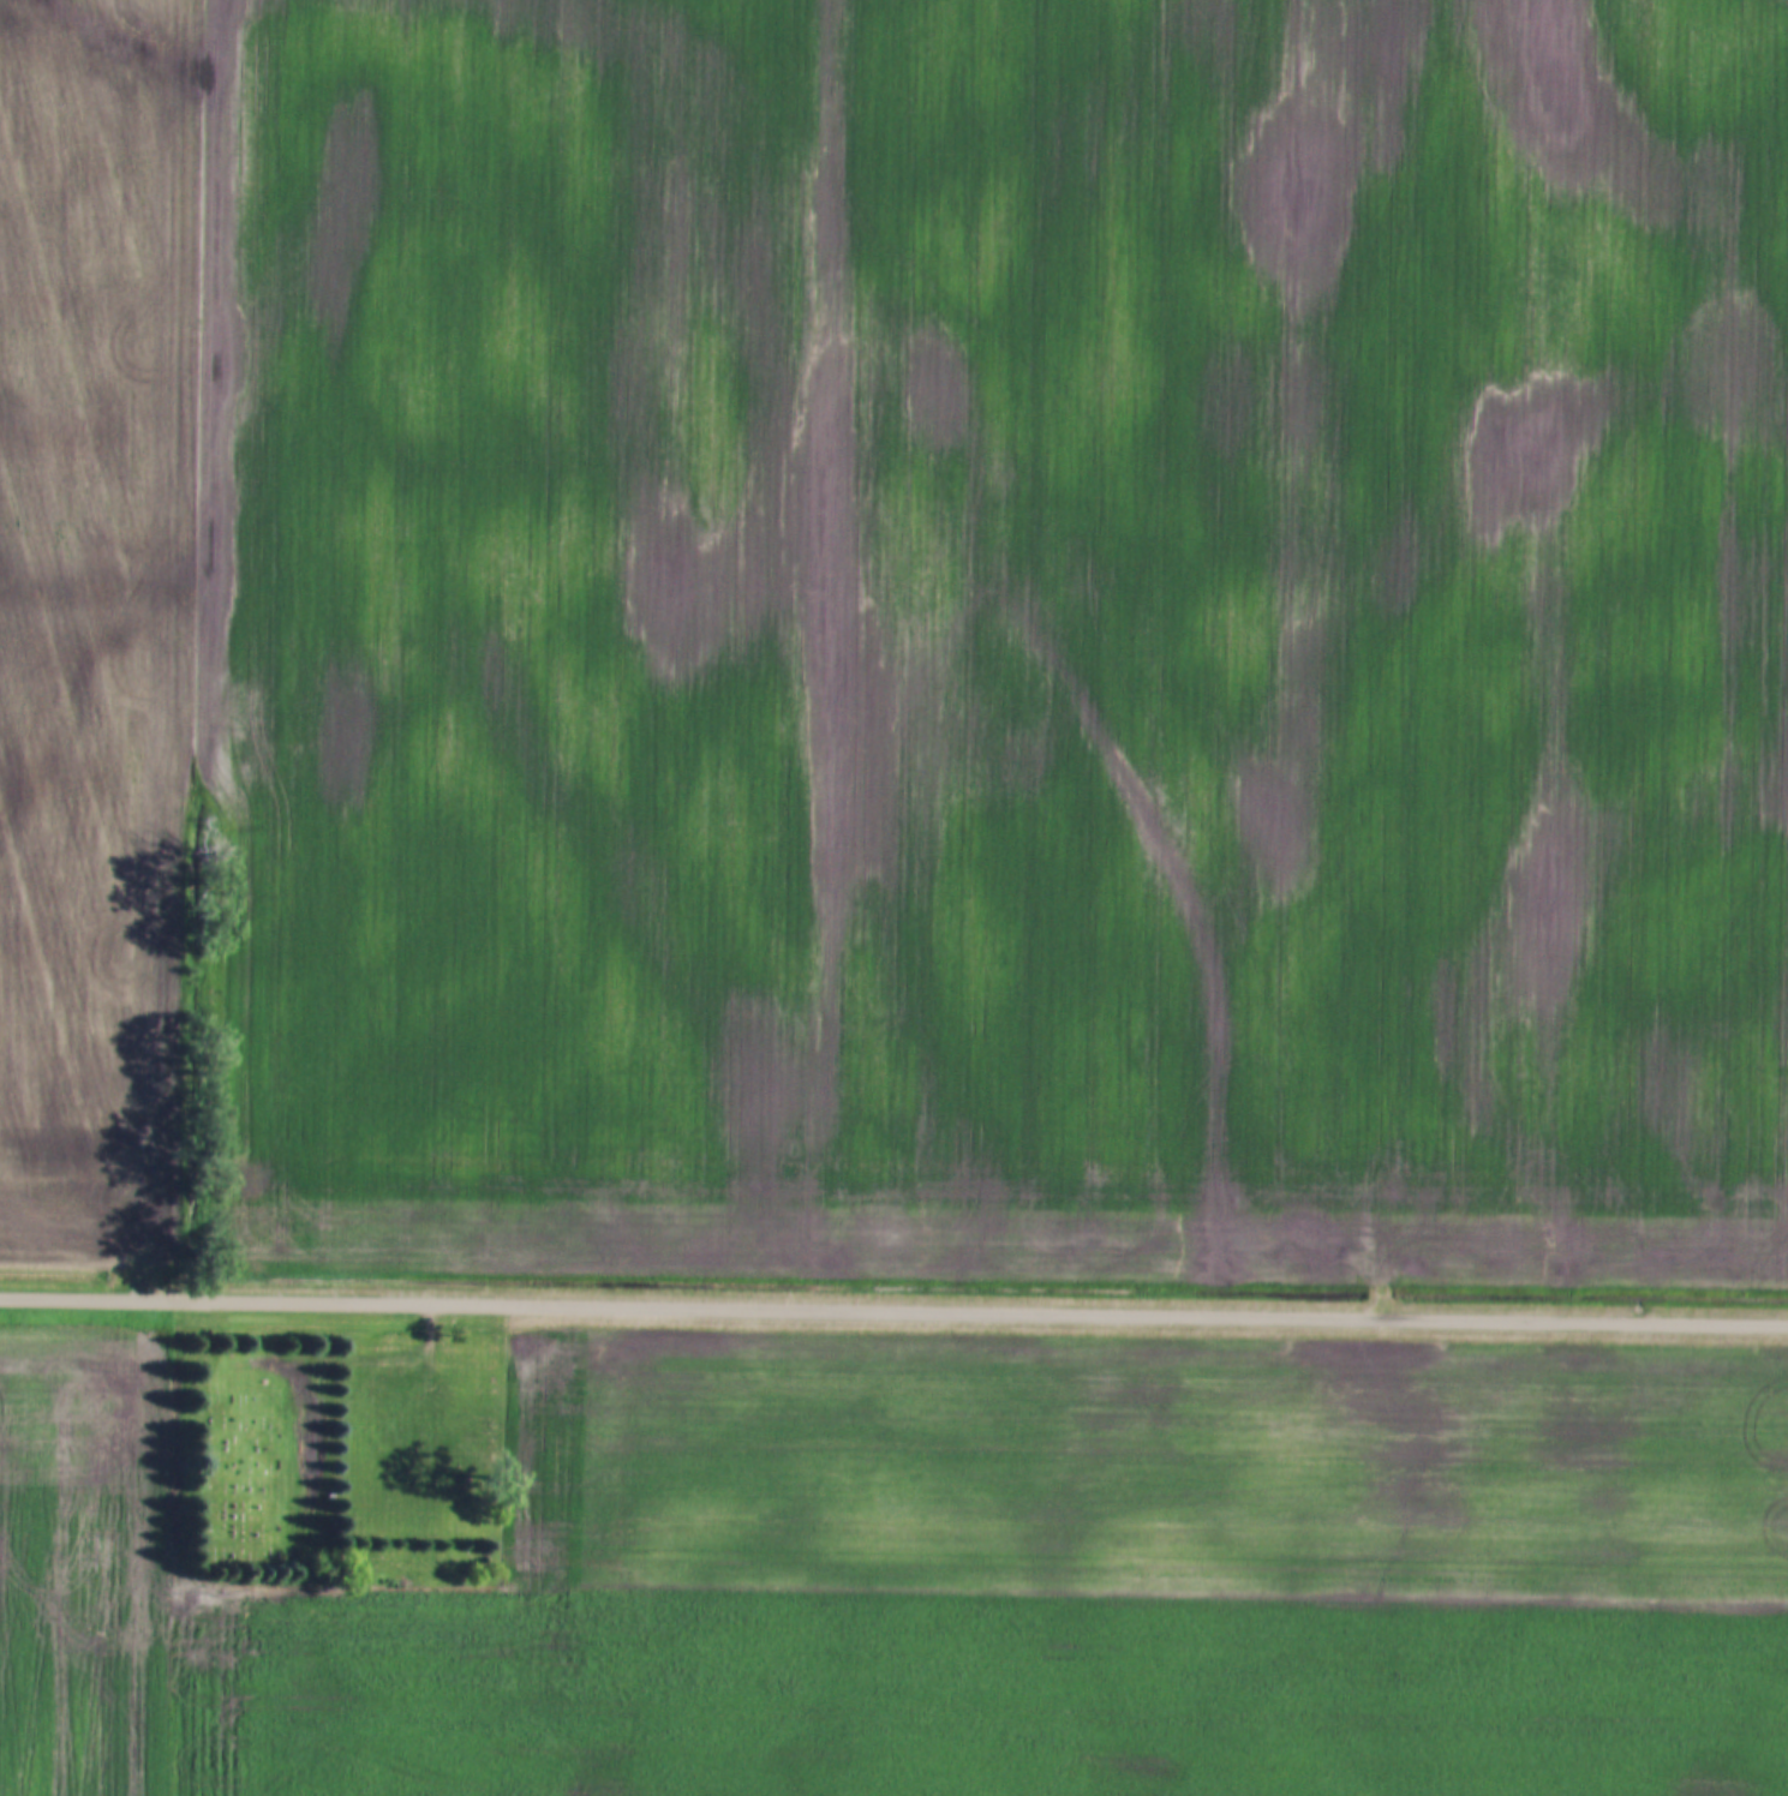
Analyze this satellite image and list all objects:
road: (893, 1311)
park: (258, 1462)

